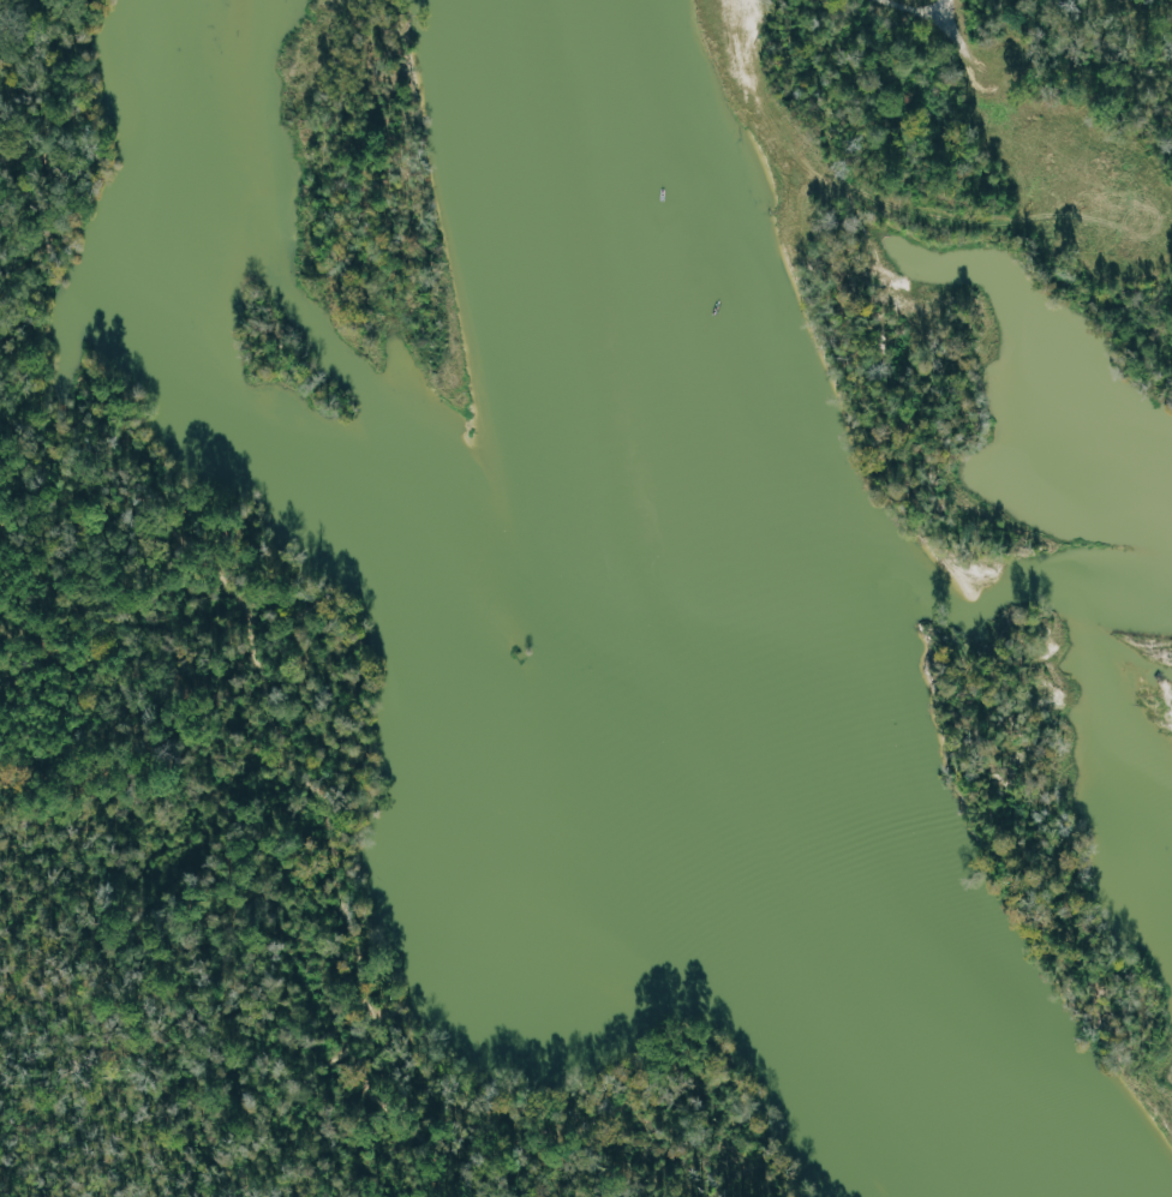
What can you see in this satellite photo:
road: (913, 8)
road: (4, 11)
road: (22, 150)
road: (14, 262)
road: (24, 409)
road: (102, 490)
road: (145, 516)
road: (288, 612)
river: (694, 660)
road: (311, 786)
park: (233, 814)
road: (80, 1064)
road: (166, 1065)
road: (375, 1100)
road: (436, 1167)

